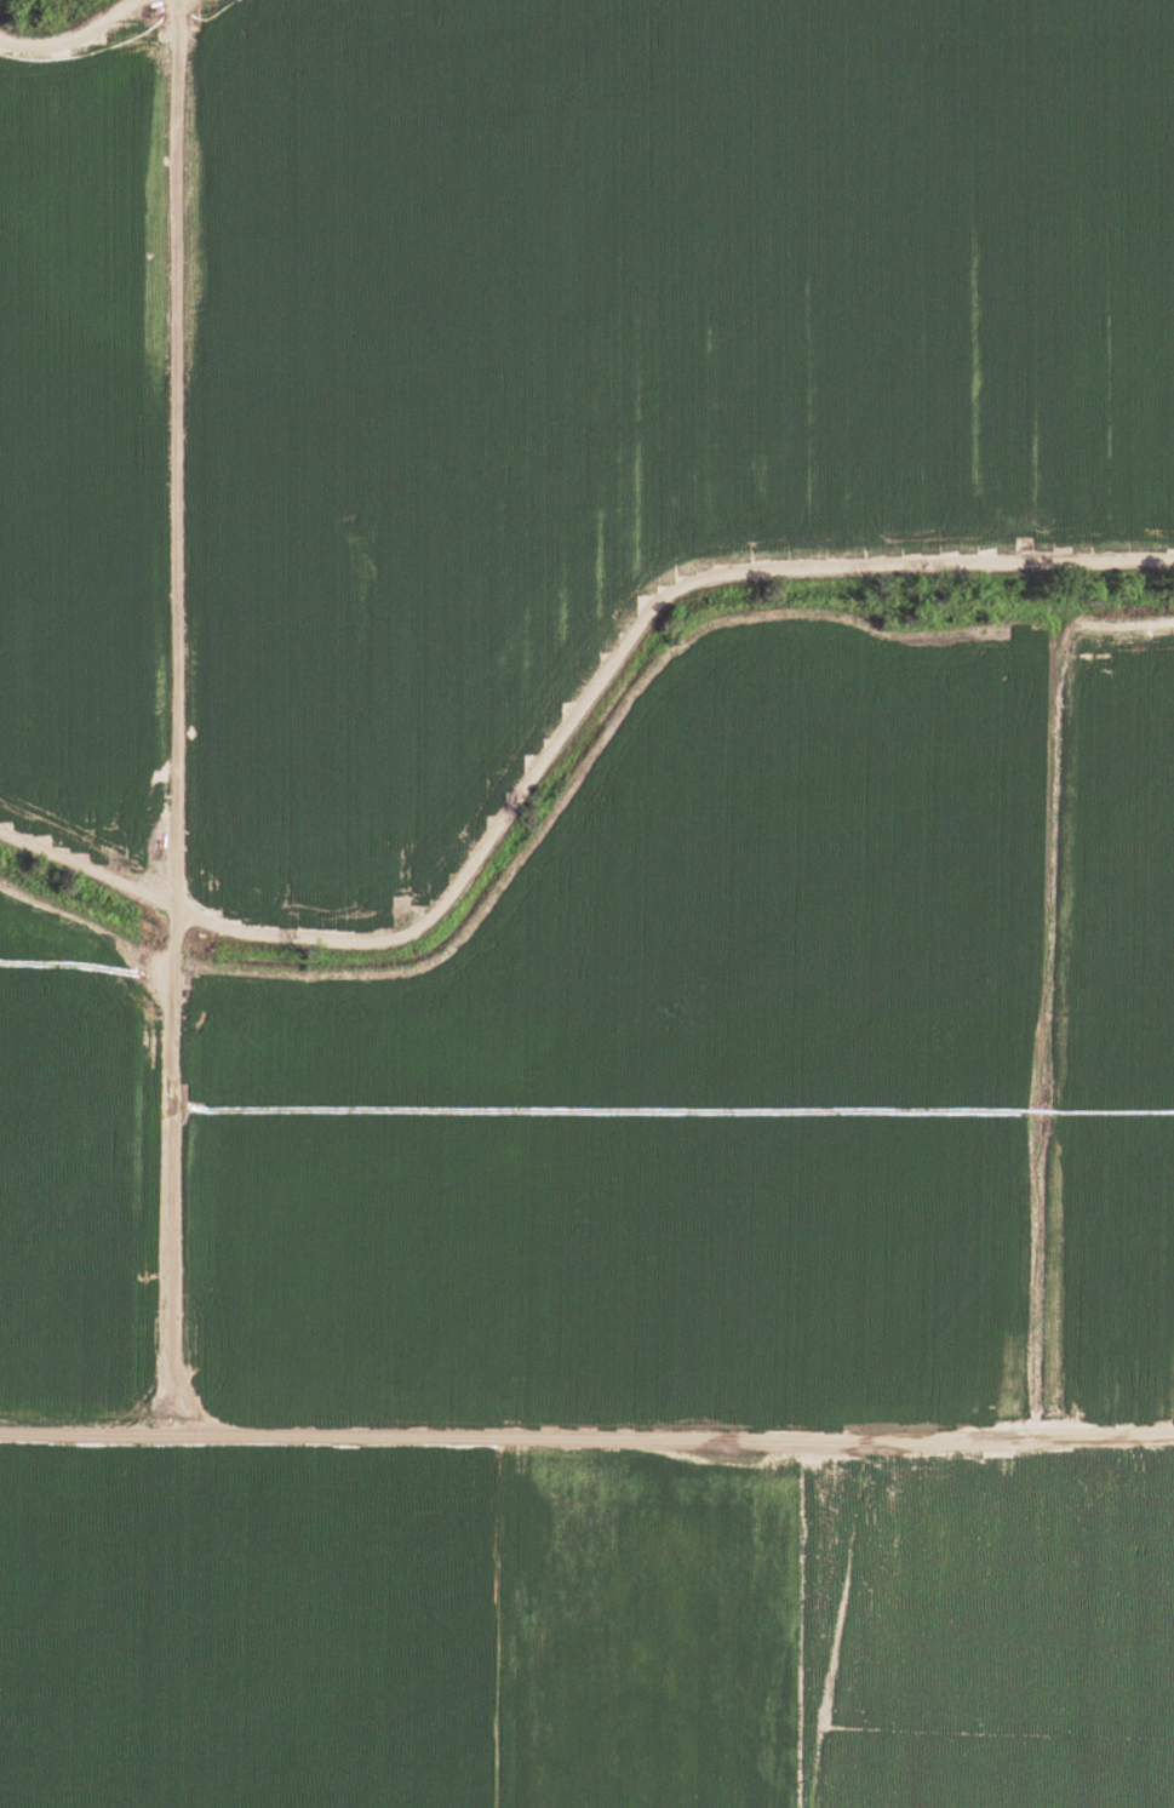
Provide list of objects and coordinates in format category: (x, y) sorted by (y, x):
road: (171, 903)
road: (586, 1436)

